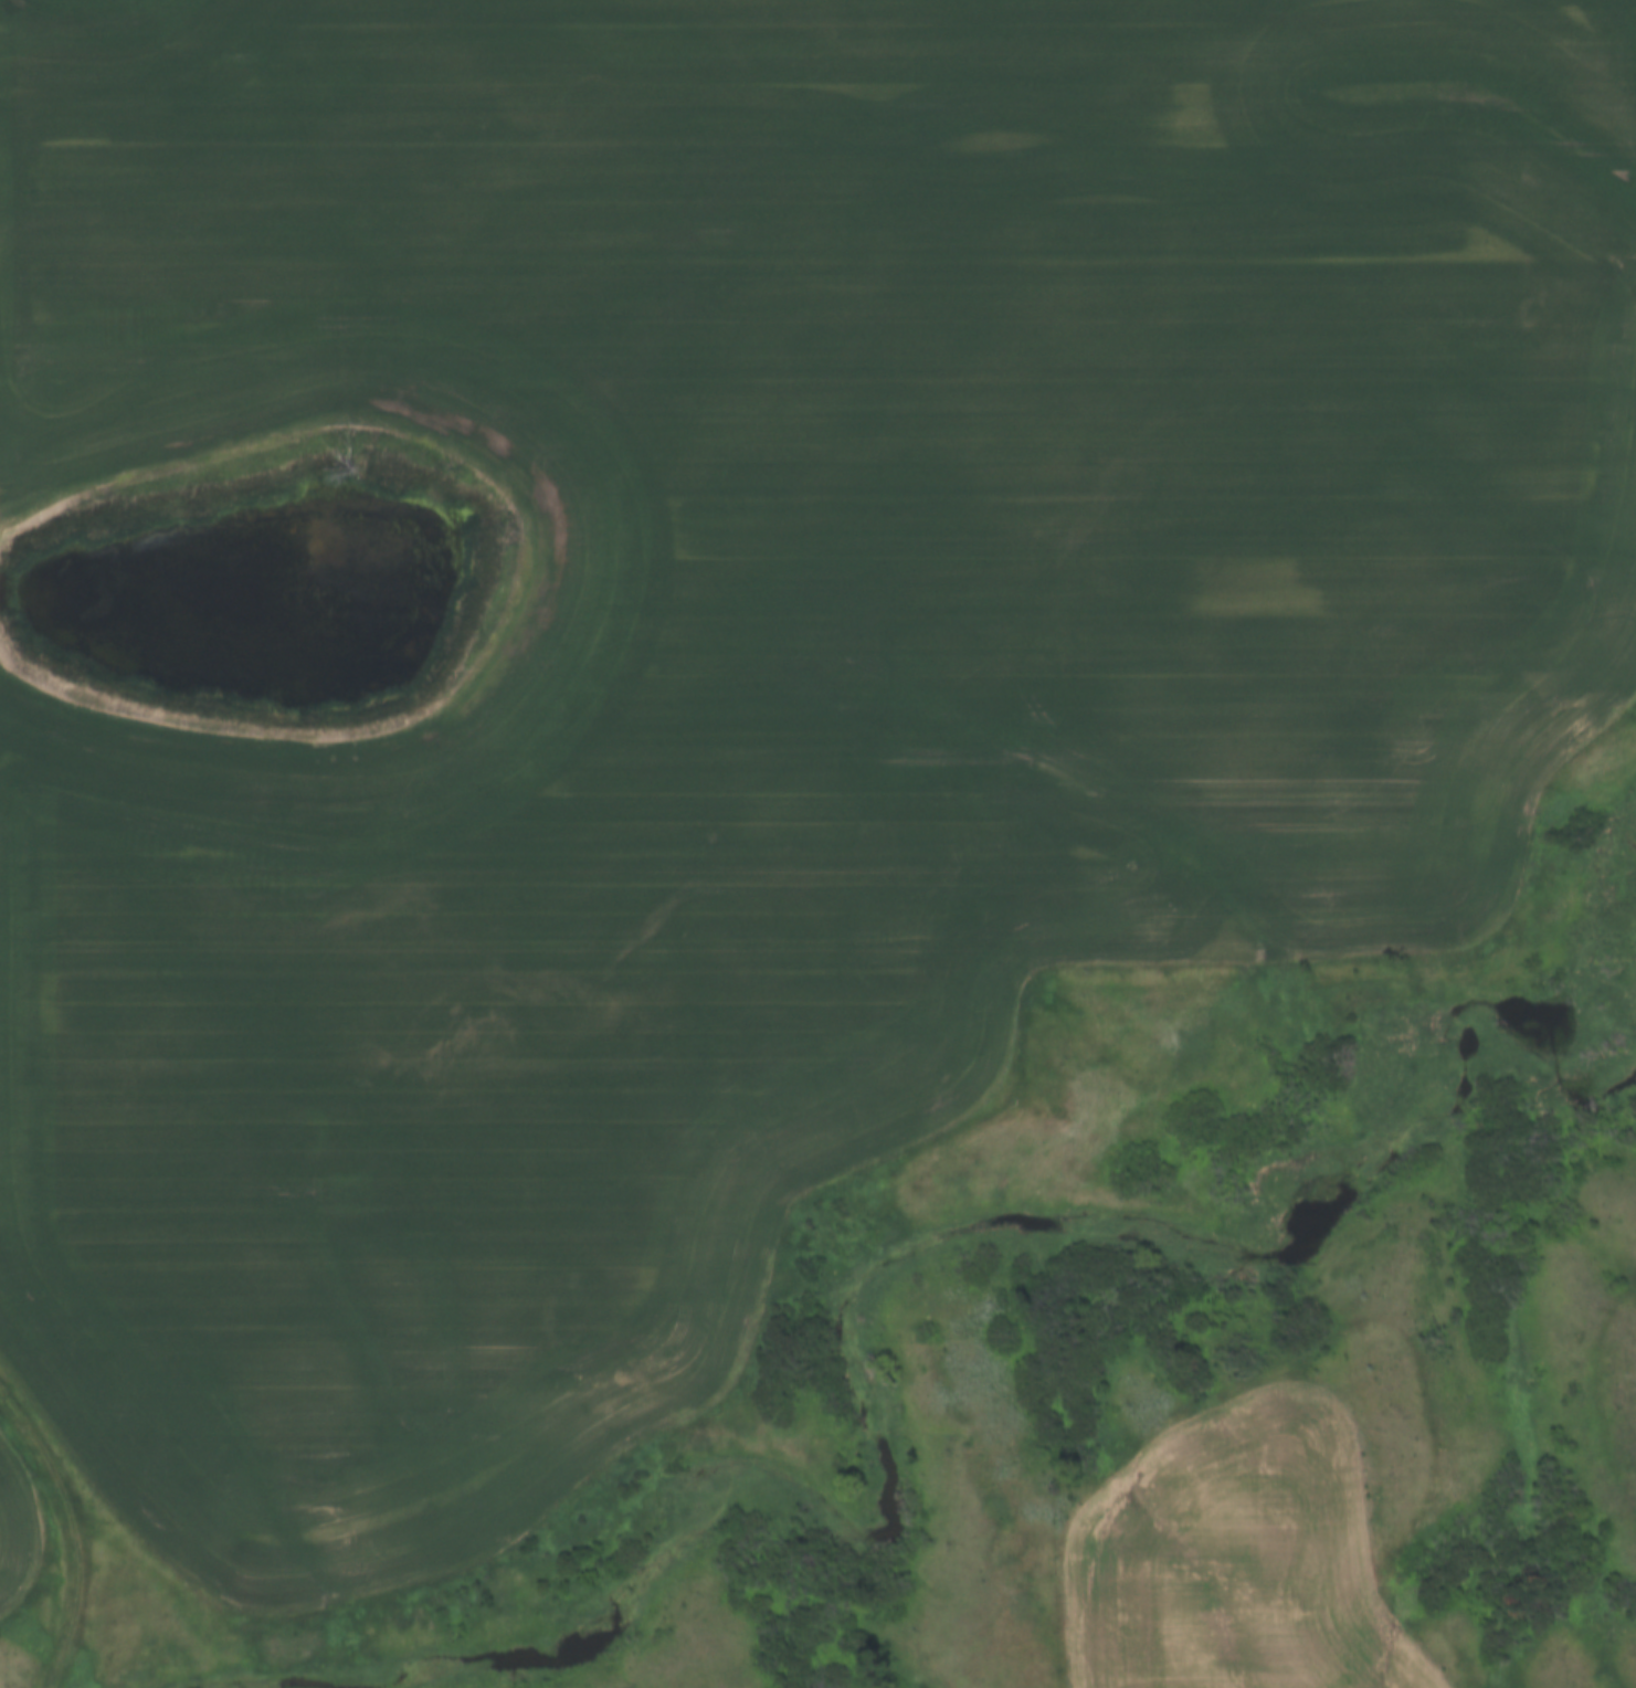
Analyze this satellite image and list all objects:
road: (78, 1528)

